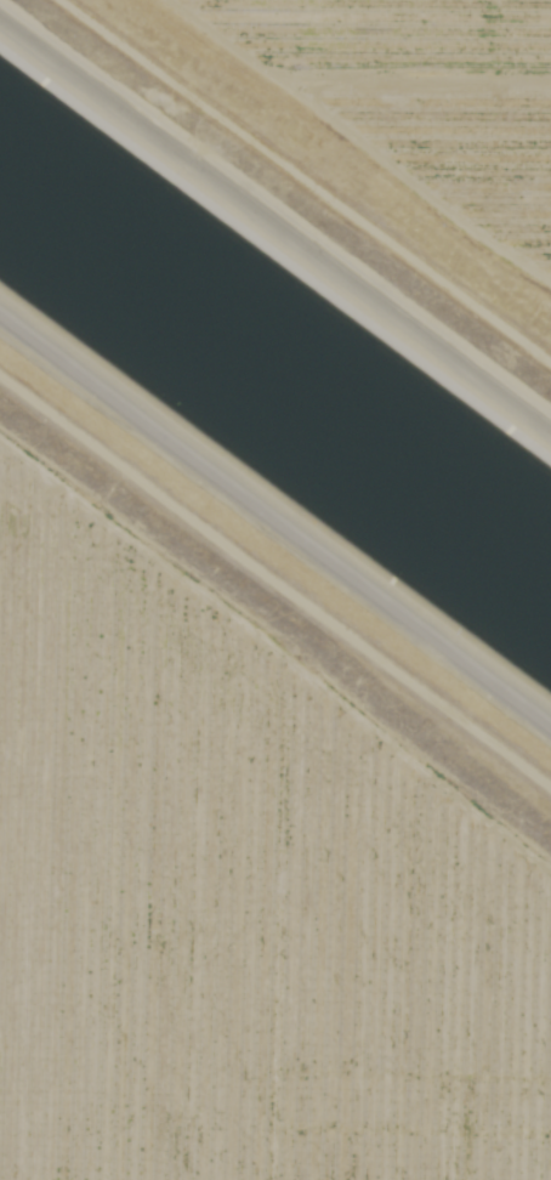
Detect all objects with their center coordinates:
crop: (357, 29)
road: (275, 574)
crop: (237, 907)

